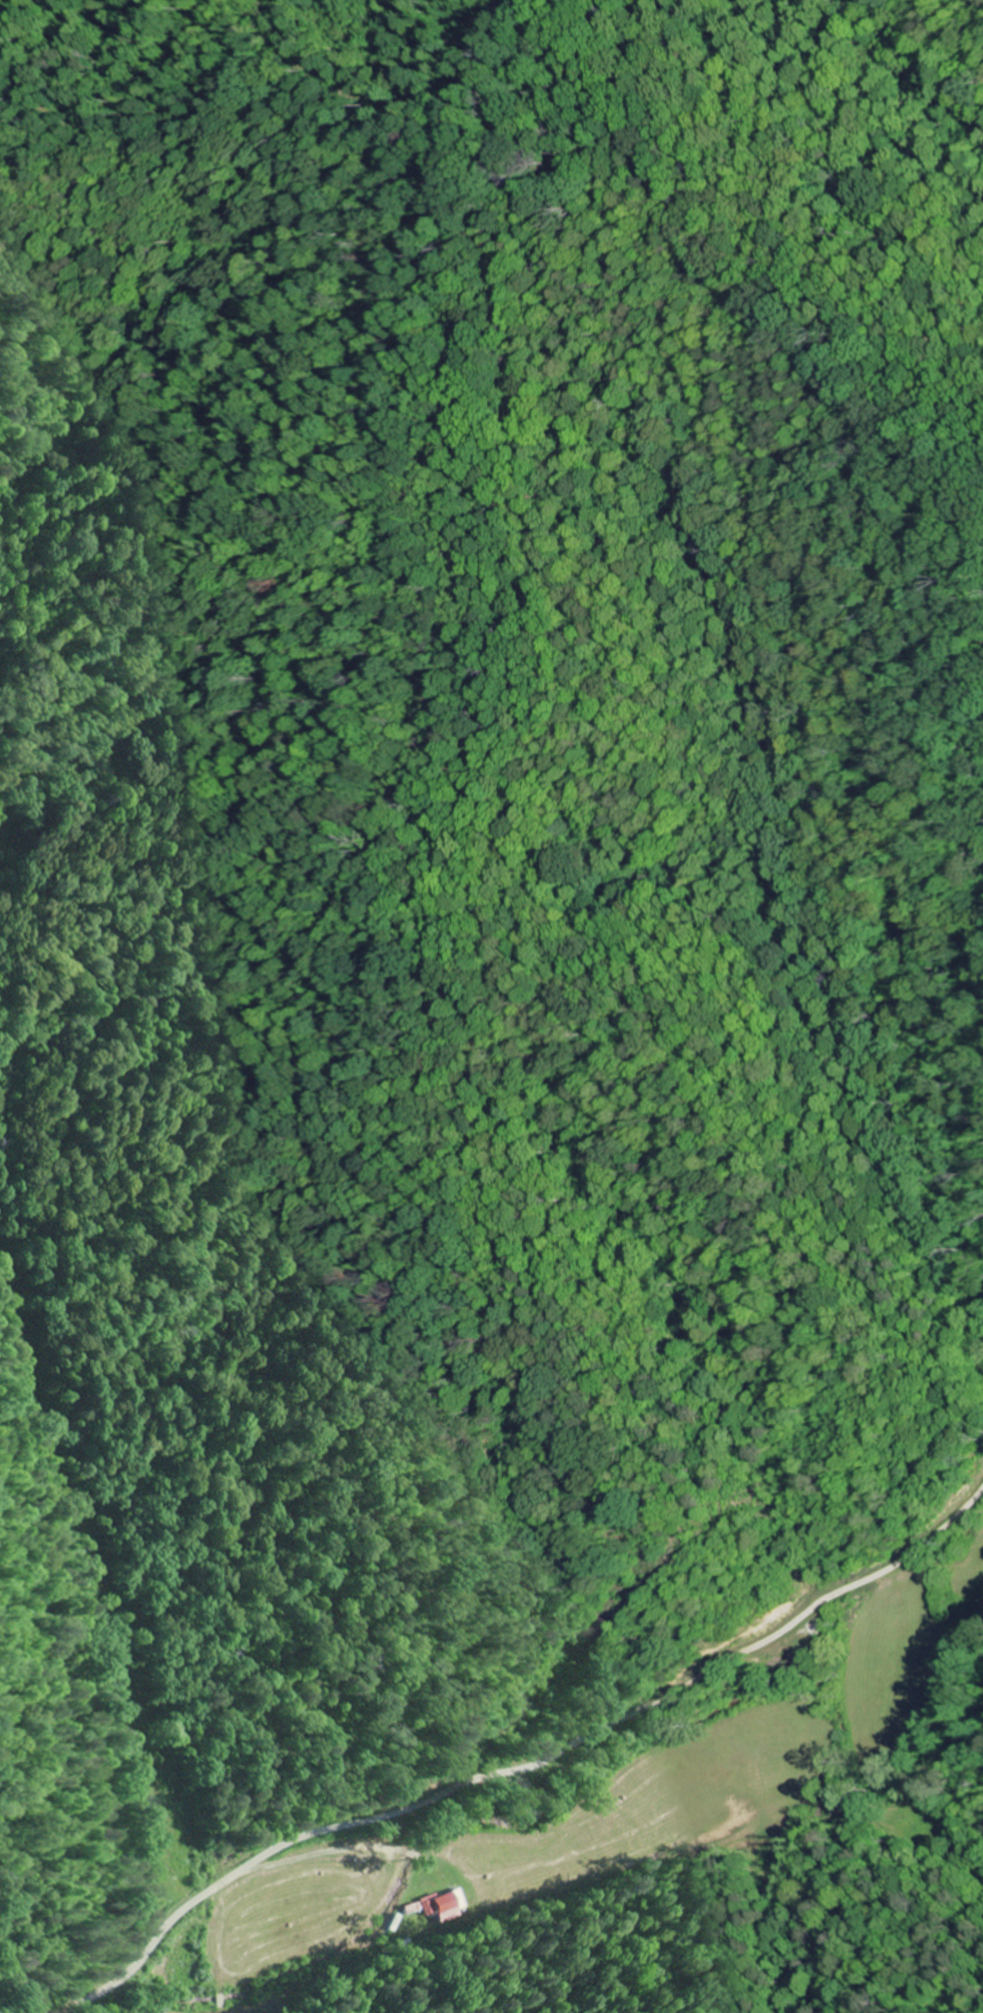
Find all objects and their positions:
road: (532, 1775)
building: (448, 1905)

